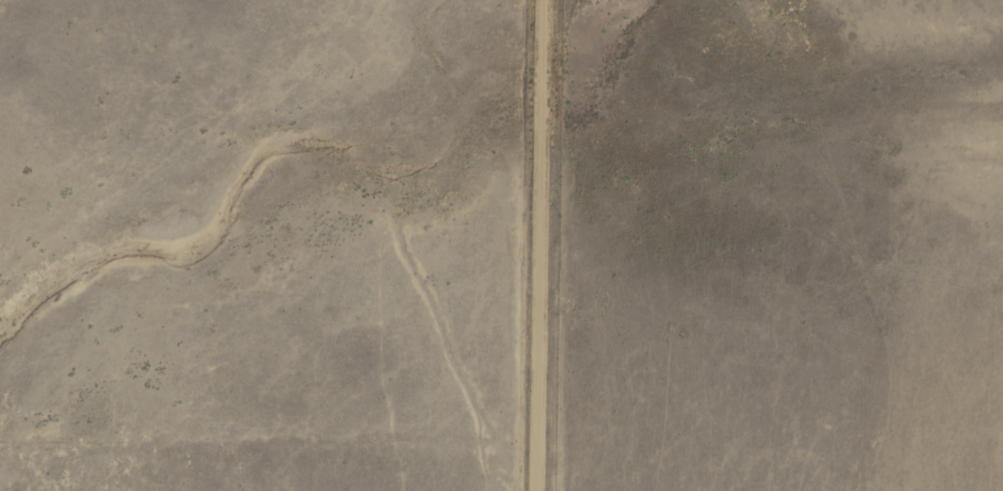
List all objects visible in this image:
road: (541, 245)

